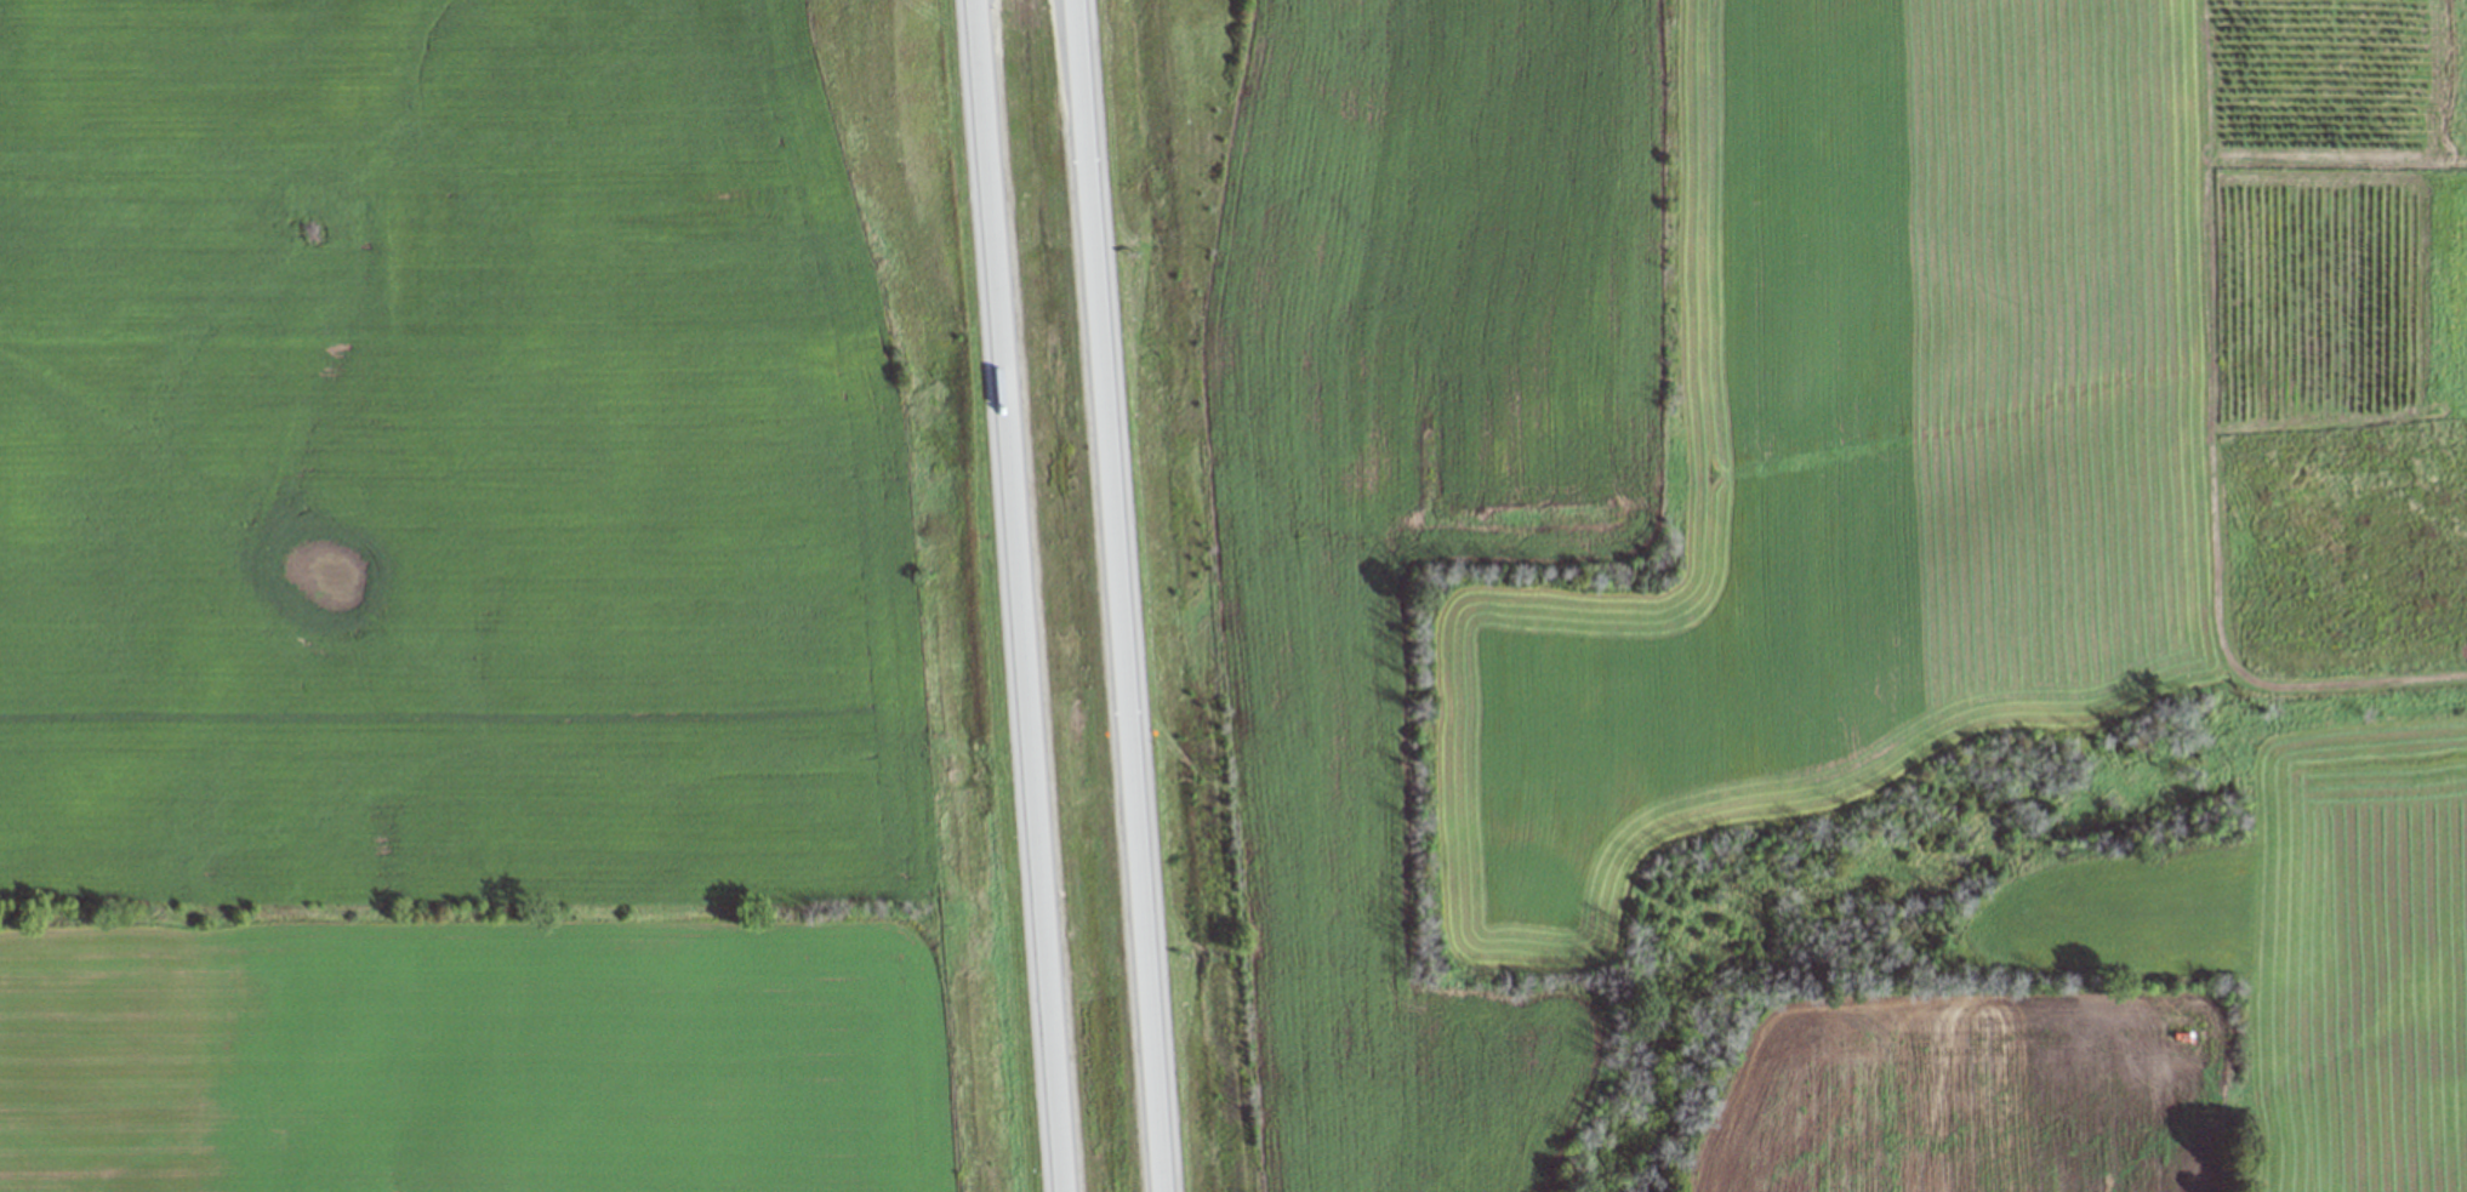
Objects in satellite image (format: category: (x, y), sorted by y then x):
road: (1022, 595)
road: (1130, 595)

